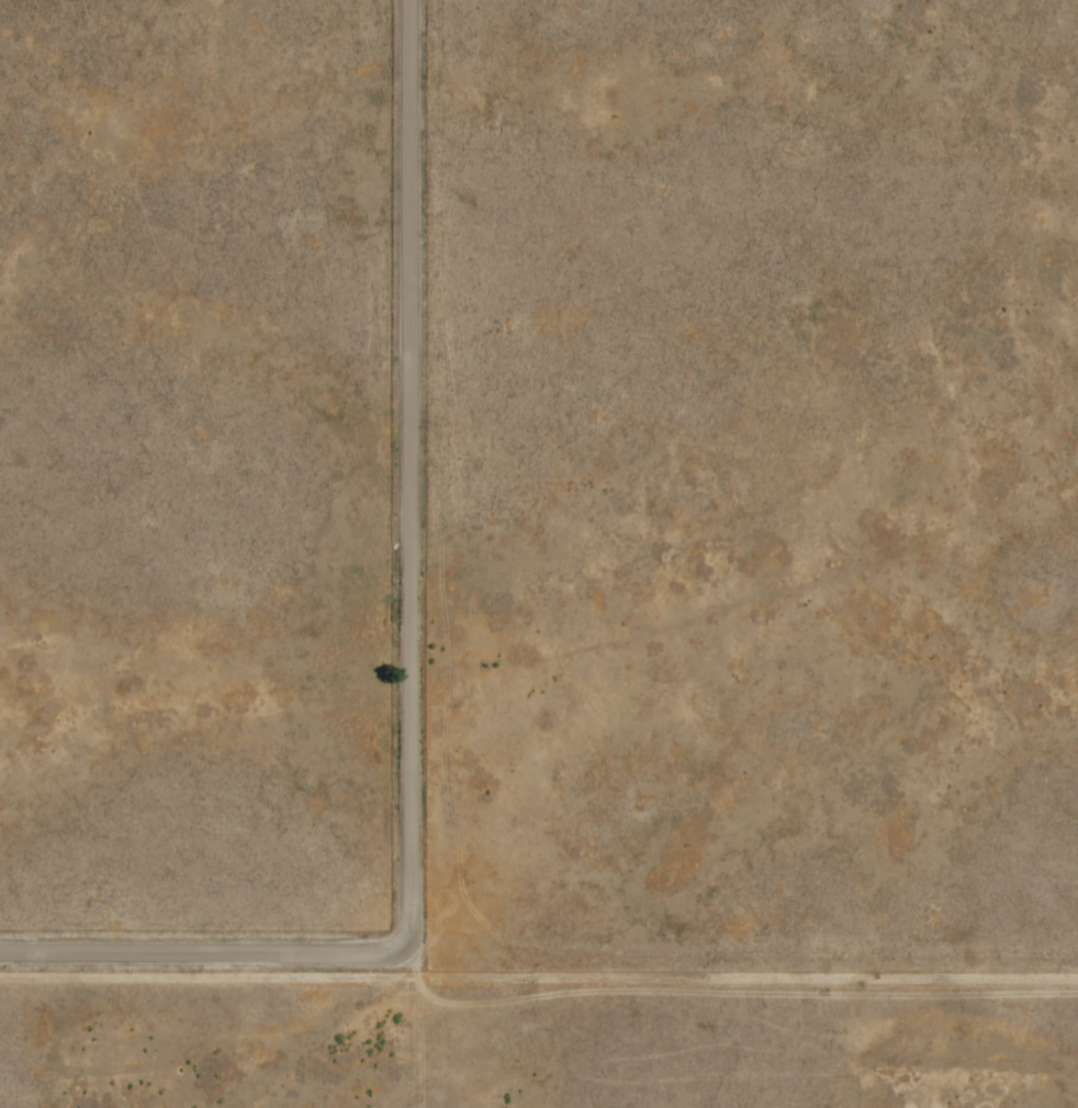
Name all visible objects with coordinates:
road: (418, 674)

